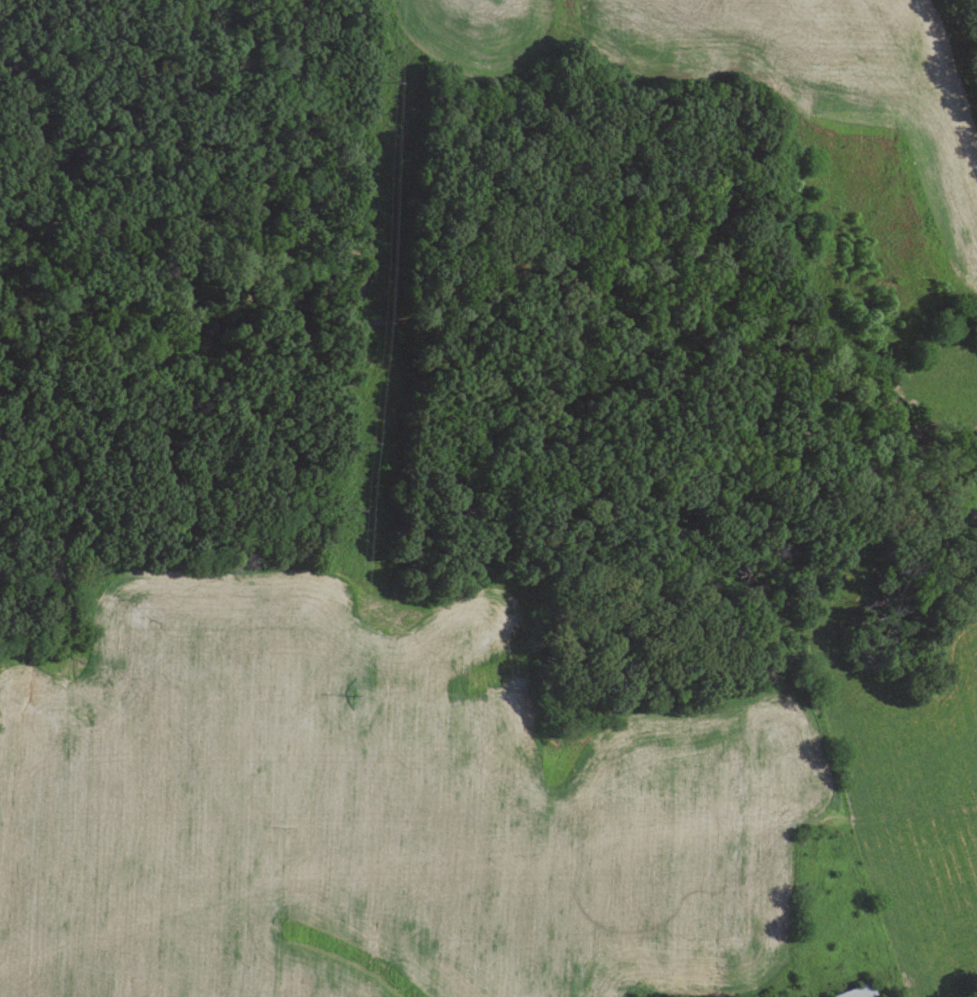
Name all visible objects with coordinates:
building: (858, 993)

